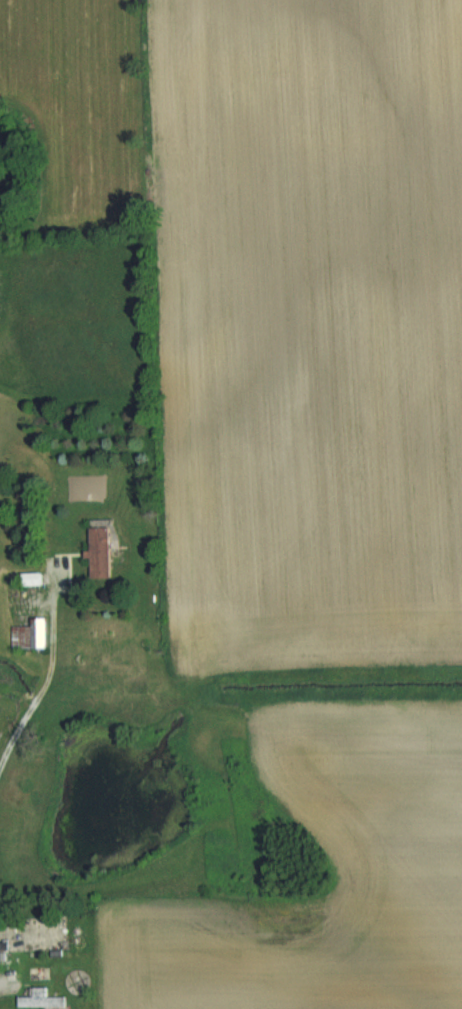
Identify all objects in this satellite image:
building: (102, 551)
building: (33, 634)
road: (49, 662)
road: (5, 751)
building: (14, 820)
building: (43, 999)

